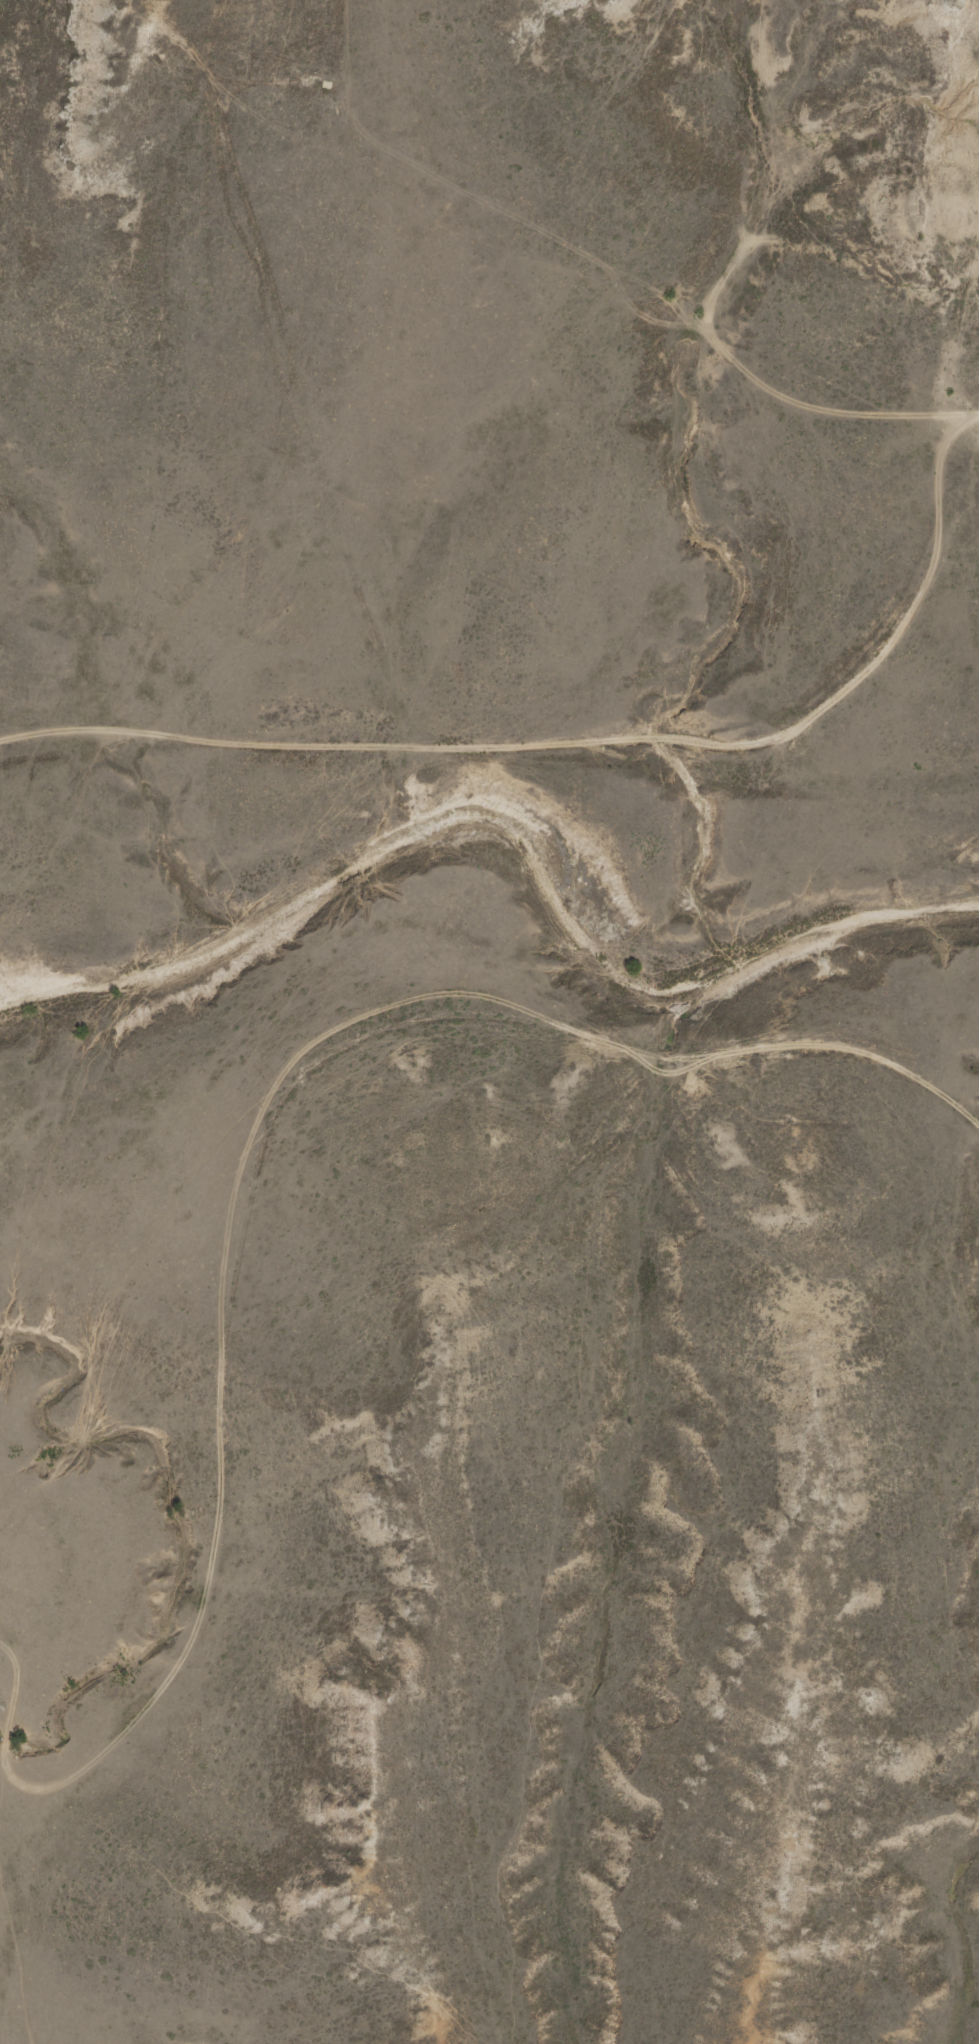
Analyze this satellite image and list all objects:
river: (515, 832)

